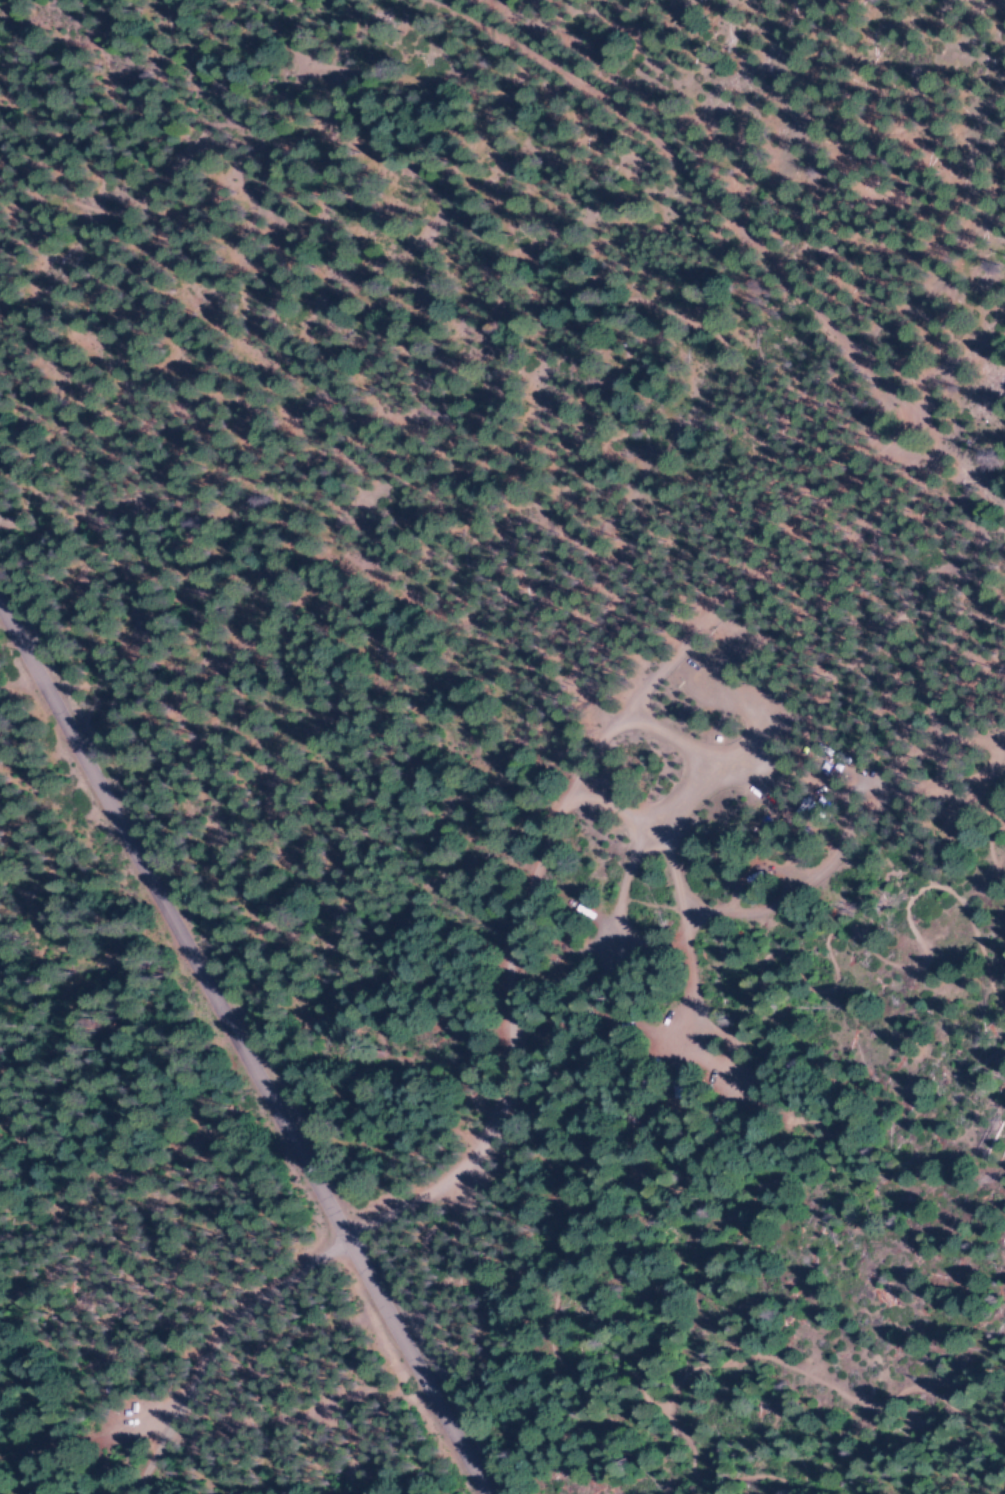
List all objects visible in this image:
road: (741, 234)
road: (766, 569)
road: (754, 731)
road: (542, 859)
road: (679, 906)
road: (244, 1050)
road: (219, 1344)

